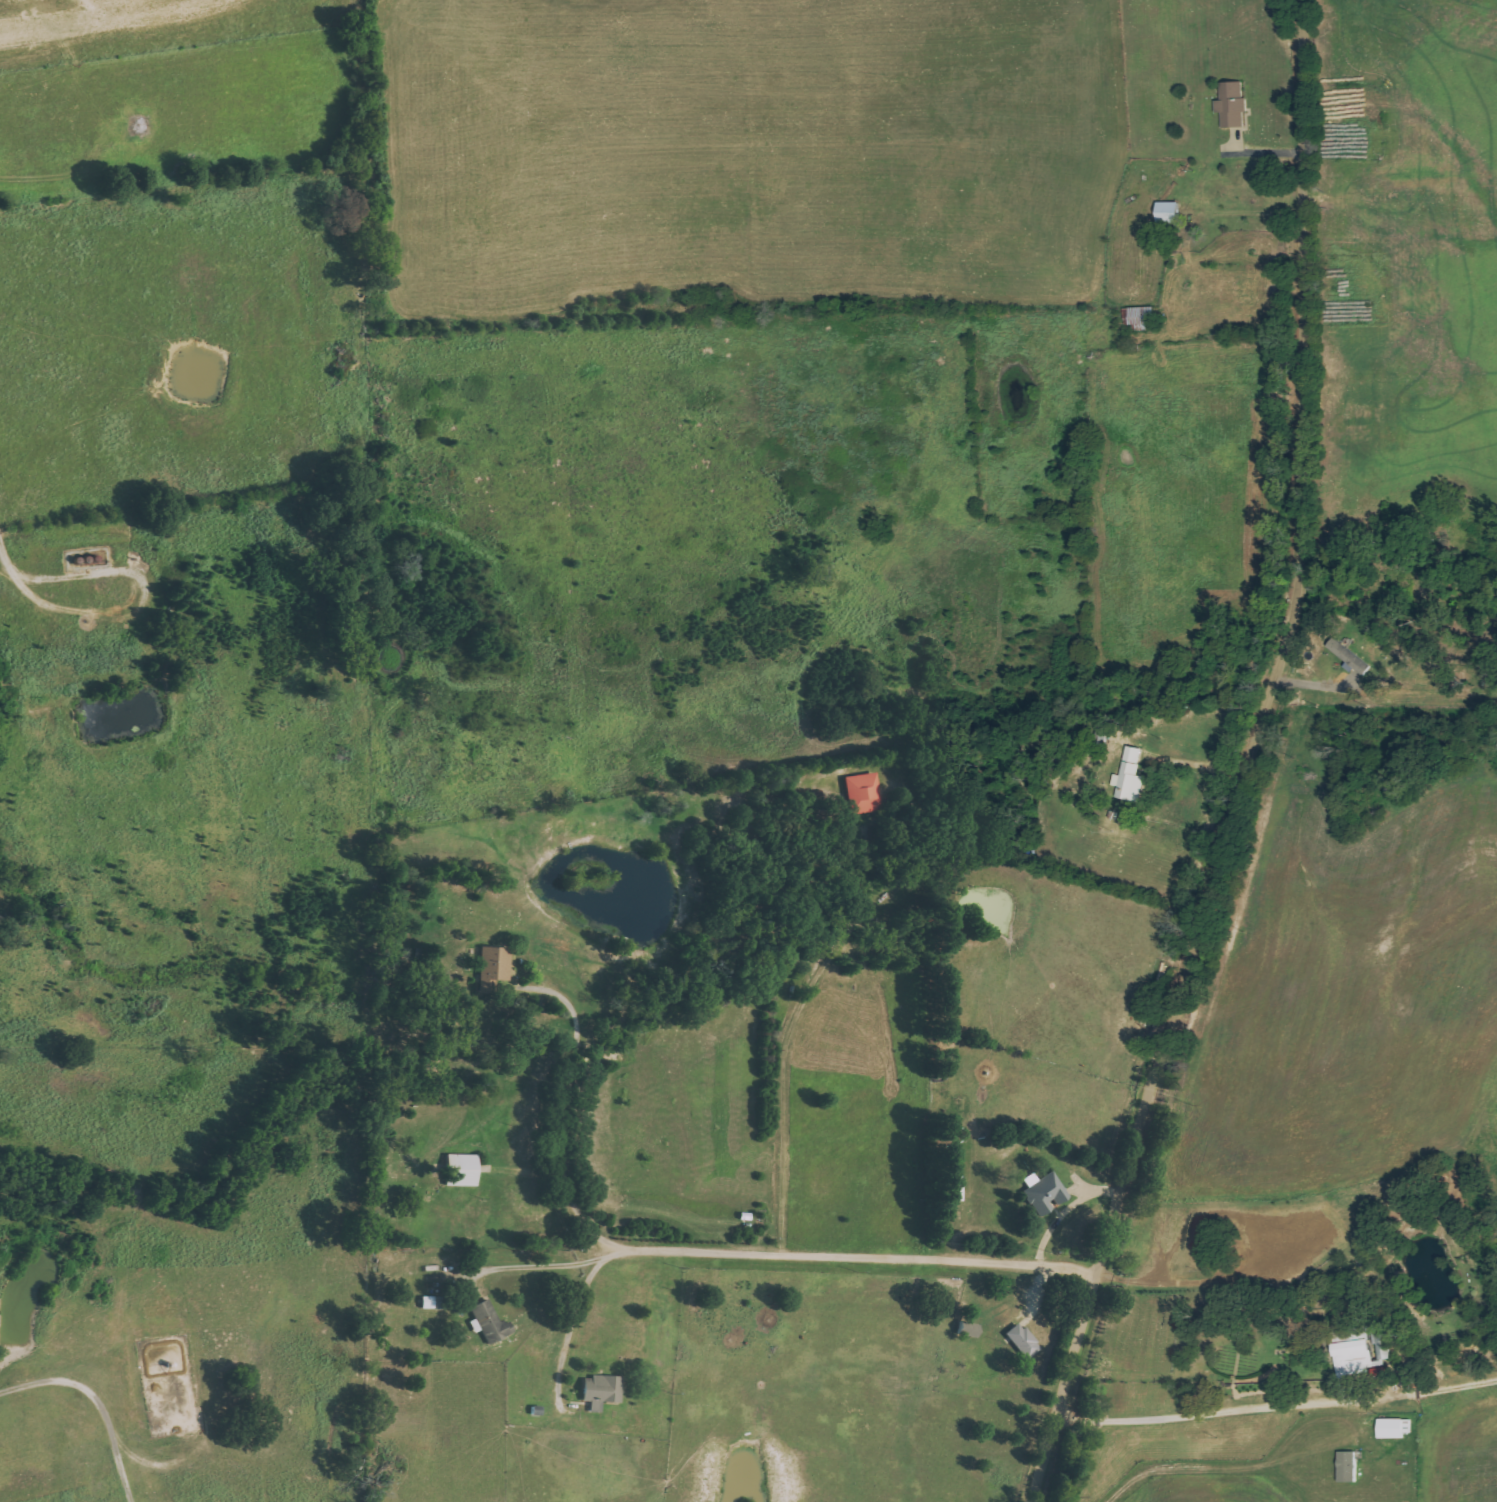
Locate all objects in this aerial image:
building: (1232, 104)
building: (1349, 657)
road: (1244, 762)
building: (1130, 776)
building: (863, 793)
building: (496, 968)
building: (462, 1170)
building: (953, 1188)
building: (1046, 1194)
building: (491, 1322)
building: (1023, 1340)
building: (1361, 1355)
building: (602, 1391)
building: (1395, 1428)
building: (1348, 1467)

